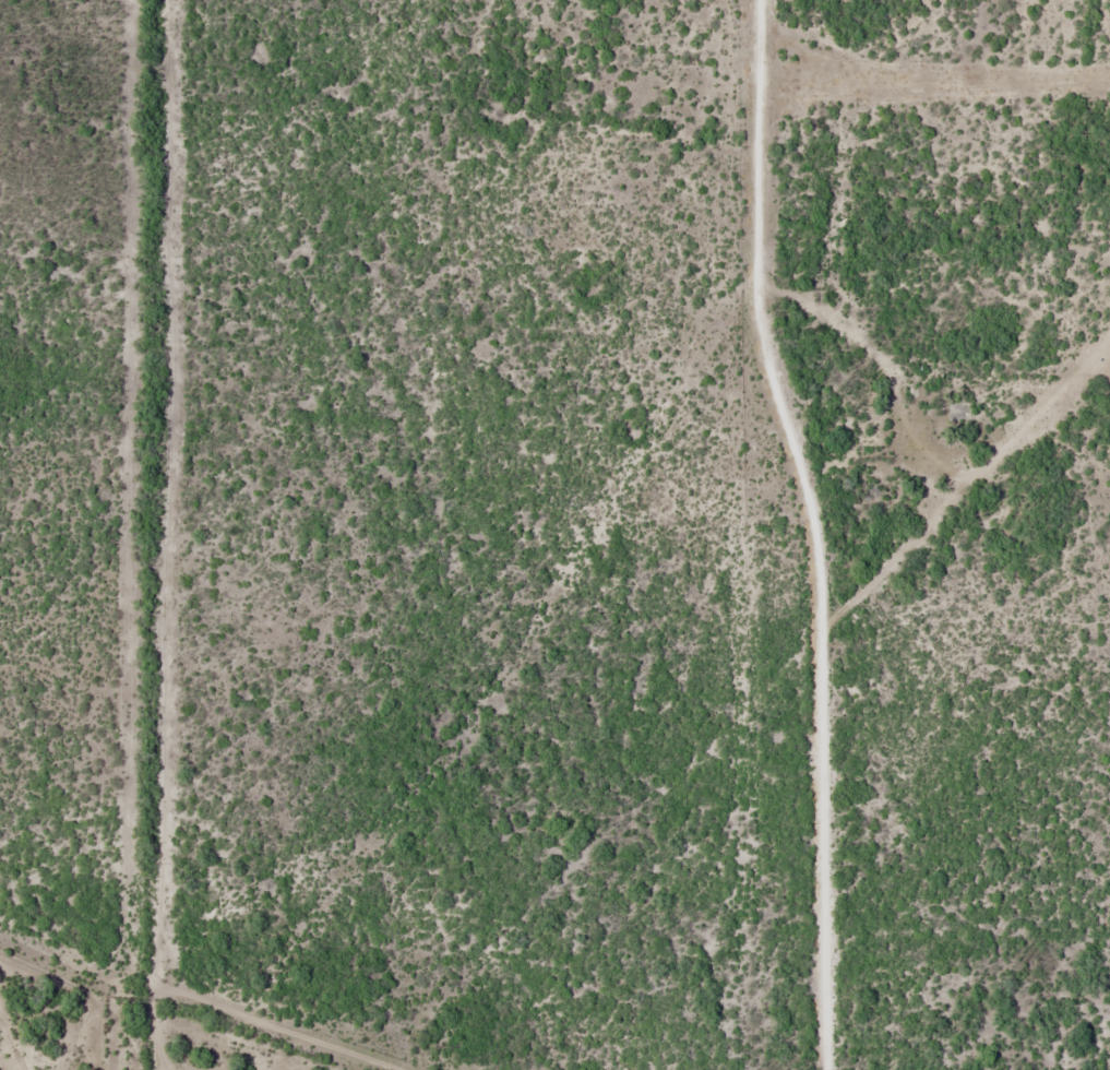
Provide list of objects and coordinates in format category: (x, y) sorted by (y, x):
road: (813, 531)

